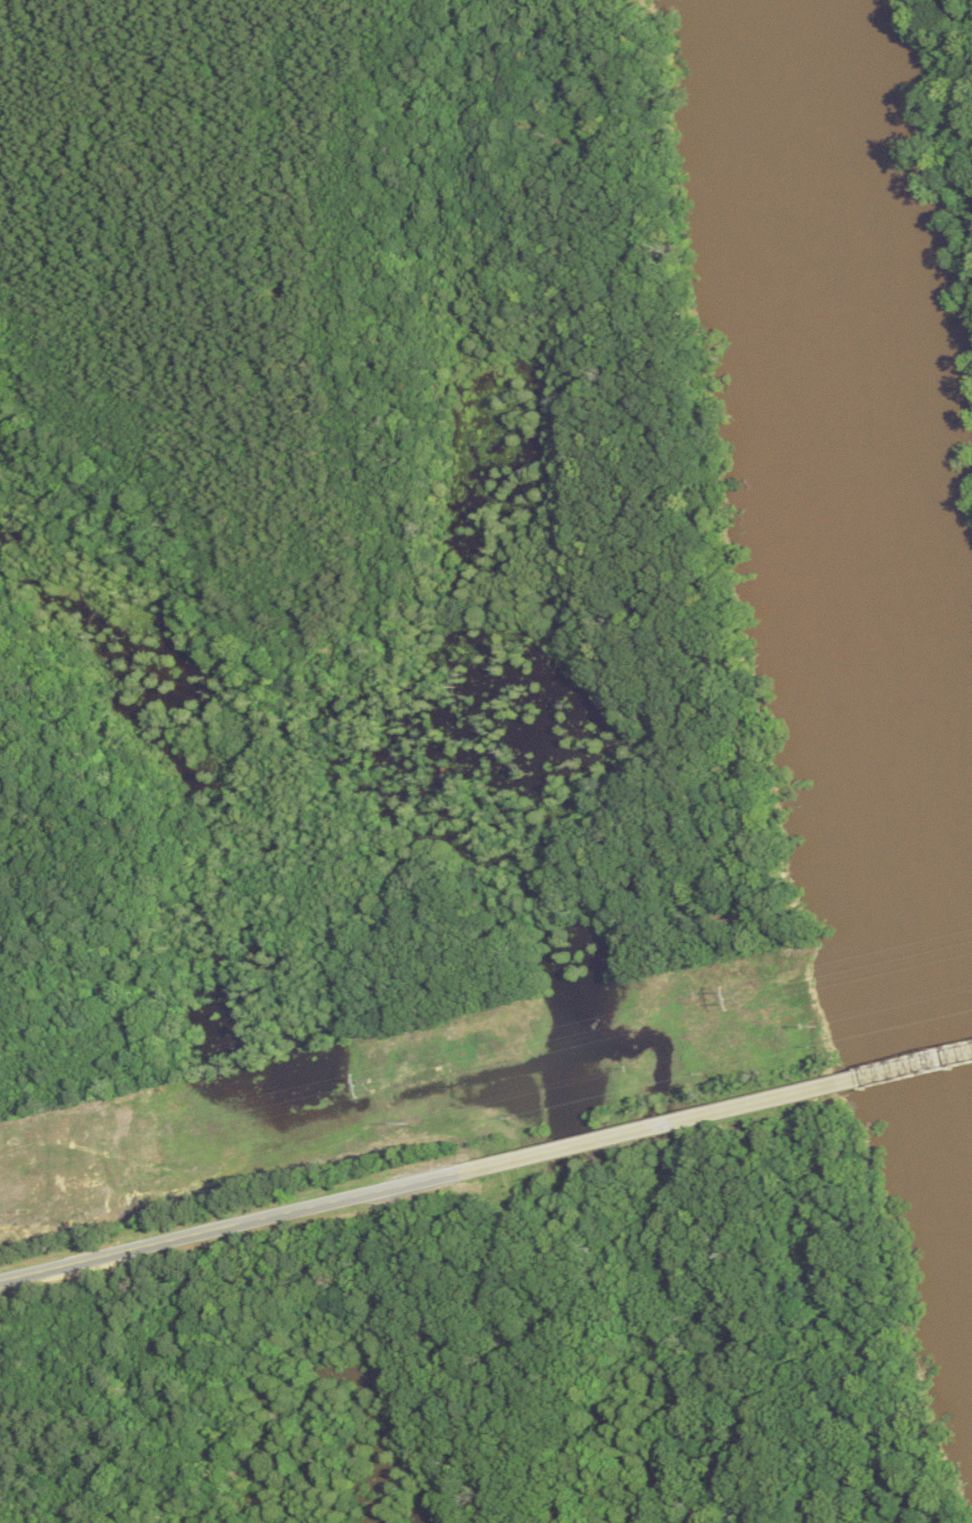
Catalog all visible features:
river: (867, 521)
power tower: (743, 997)
power tower: (365, 1085)
road: (718, 1112)
road: (232, 1226)

